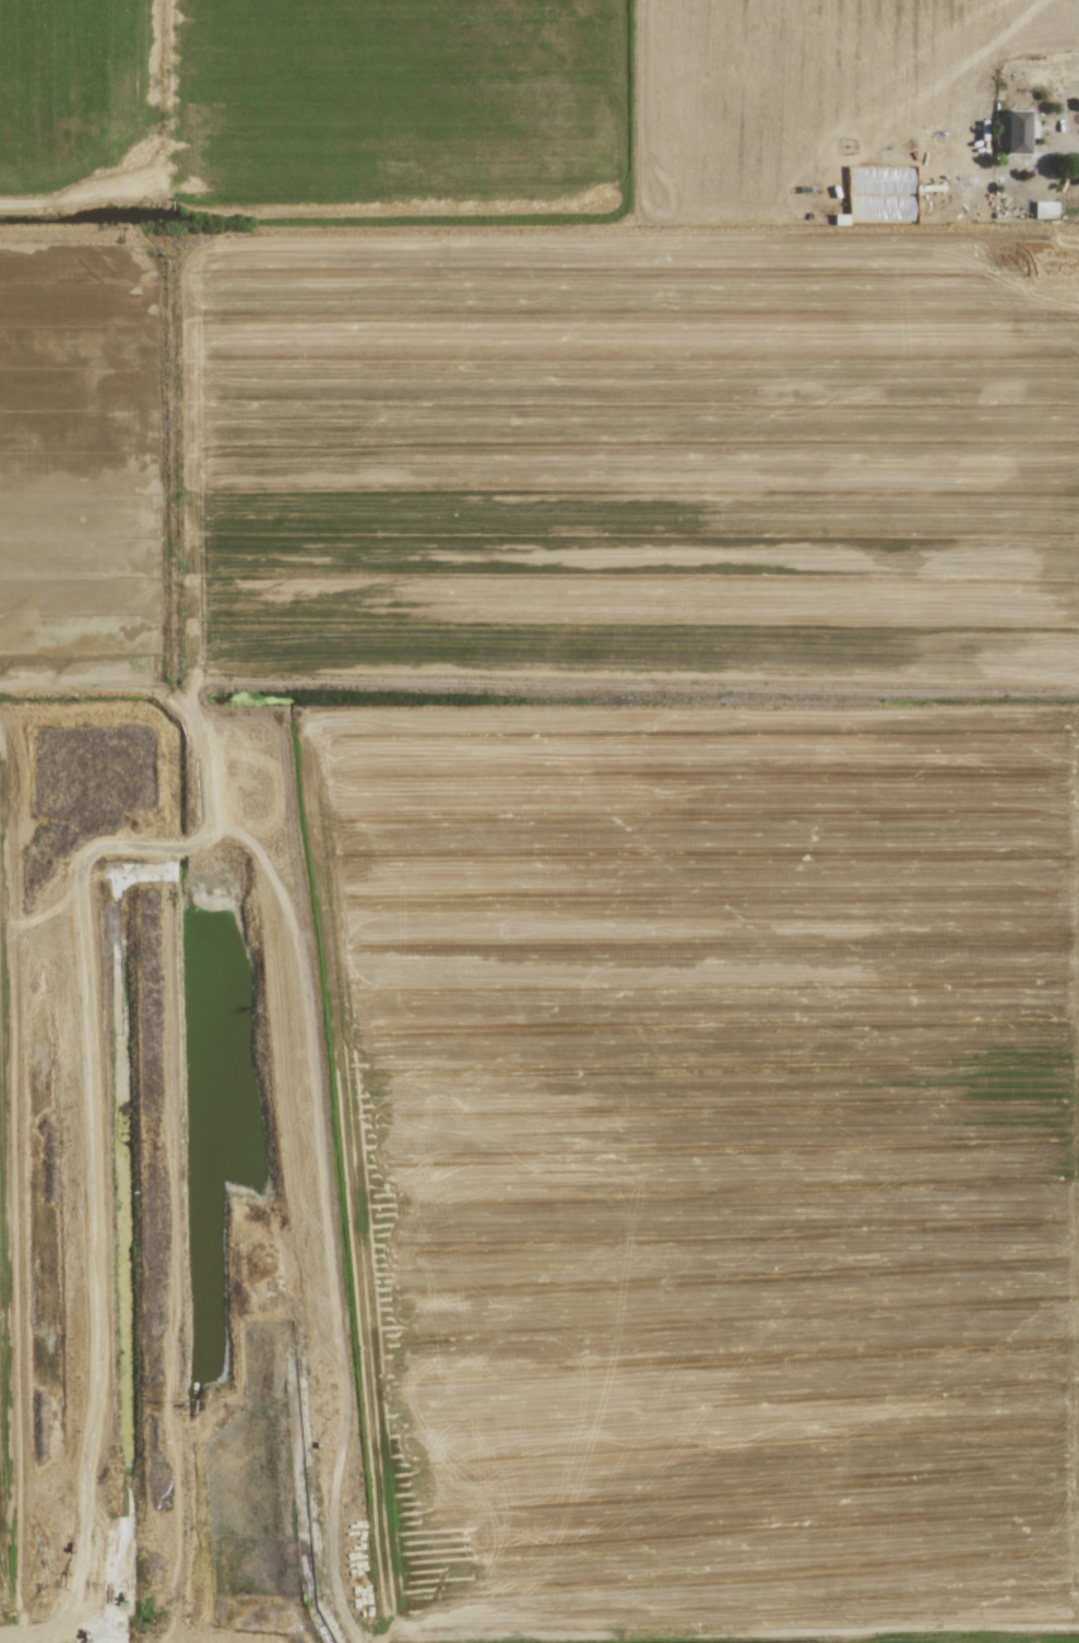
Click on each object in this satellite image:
road: (1059, 119)
building: (1010, 131)
road: (22, 1633)

